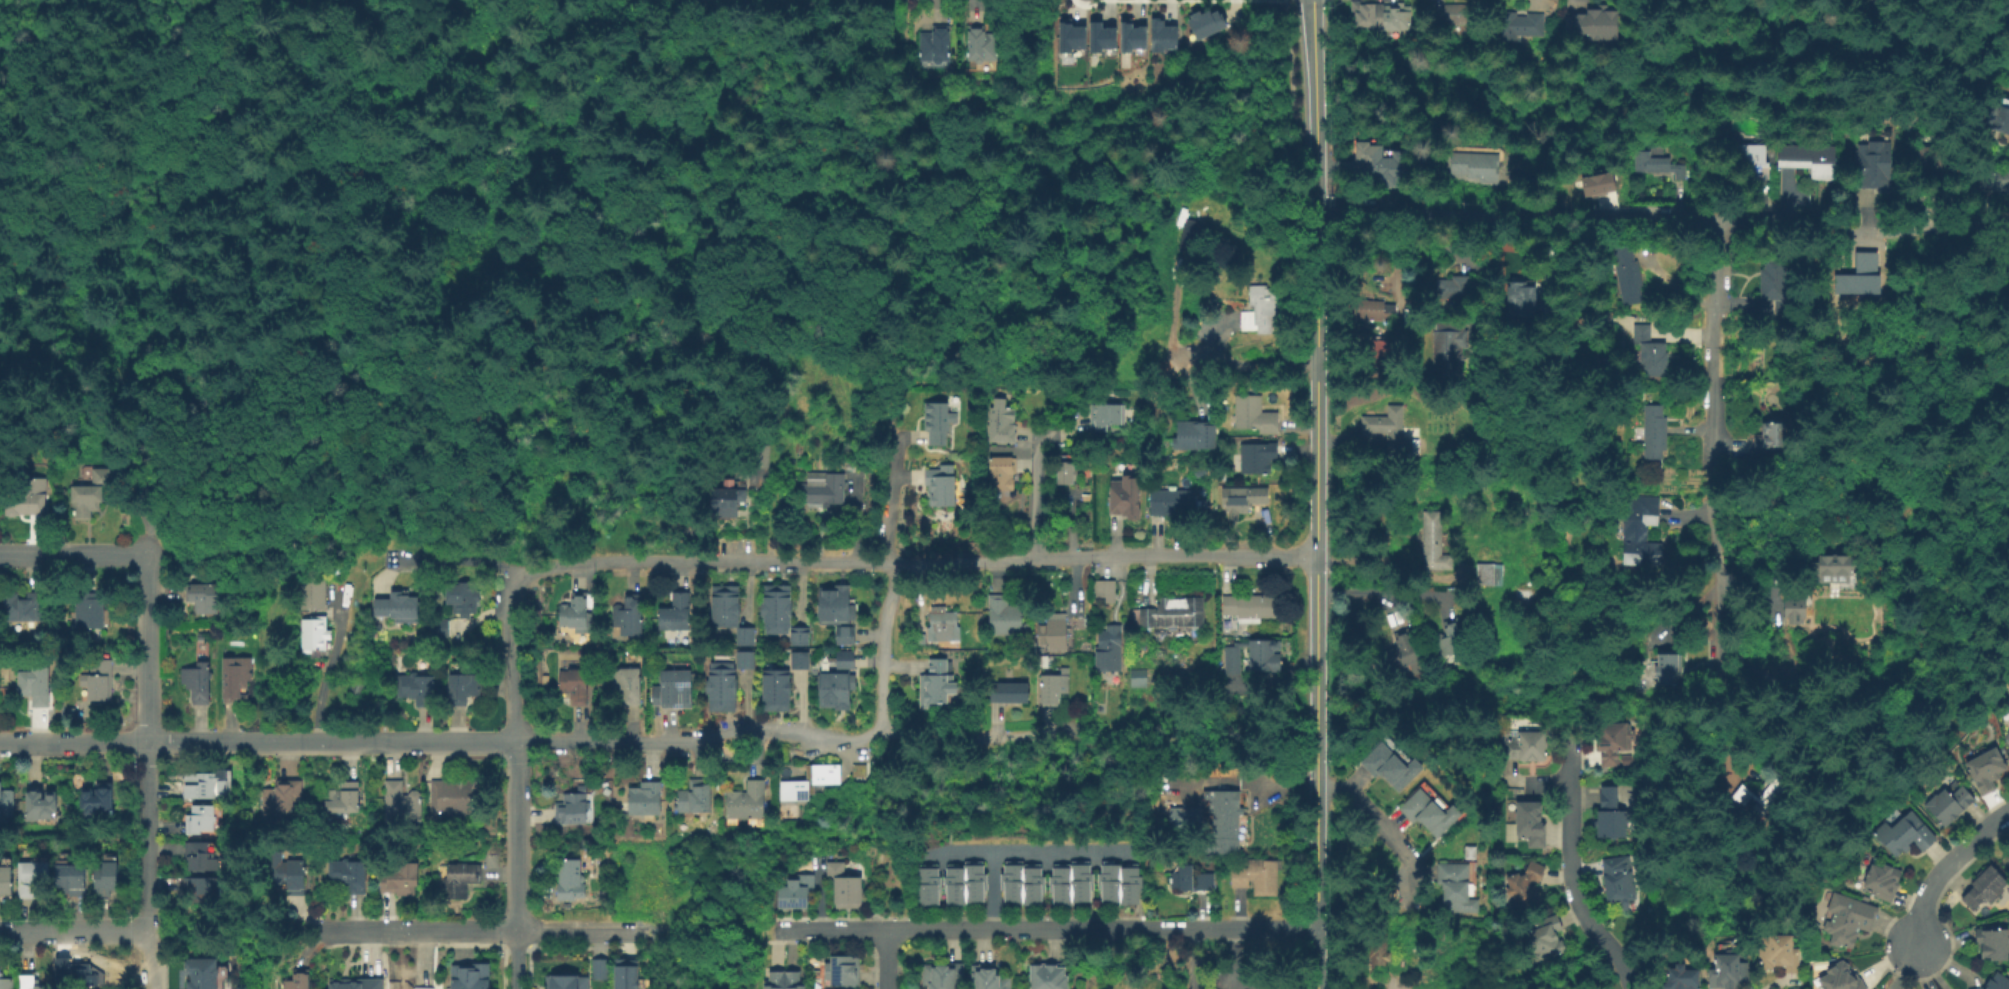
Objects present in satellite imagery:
building: (1454, 15)
building: (1382, 16)
building: (1207, 21)
building: (1592, 24)
building: (1518, 25)
building: (1163, 30)
building: (1079, 31)
building: (1108, 31)
building: (1136, 31)
building: (935, 43)
building: (980, 43)
road: (1311, 70)
road: (430, 80)
building: (2000, 114)
building: (1756, 154)
building: (1811, 157)
building: (1939, 159)
building: (1382, 160)
building: (1660, 163)
building: (1477, 165)
building: (1872, 165)
building: (1993, 179)
building: (1595, 183)
road: (1661, 223)
building: (1193, 235)
road: (103, 273)
building: (1628, 274)
building: (1774, 278)
building: (1455, 286)
building: (1528, 292)
road: (675, 293)
building: (1784, 306)
building: (1258, 309)
building: (1376, 310)
building: (1451, 347)
building: (1375, 352)
building: (1651, 352)
road: (1254, 363)
building: (1104, 414)
building: (1256, 414)
building: (938, 421)
building: (1001, 423)
building: (1392, 430)
building: (1655, 430)
building: (1196, 436)
building: (1774, 436)
building: (758, 455)
building: (1259, 456)
road: (1718, 461)
building: (1001, 472)
building: (1066, 472)
building: (825, 487)
building: (940, 487)
building: (90, 492)
road: (893, 495)
building: (1126, 498)
building: (1244, 498)
road: (1034, 499)
building: (724, 501)
building: (23, 502)
building: (1173, 503)
building: (1640, 529)
building: (1435, 541)
road: (74, 556)
road: (453, 561)
road: (914, 561)
road: (1315, 565)
building: (1829, 570)
building: (1494, 573)
building: (1104, 590)
road: (1387, 591)
building: (313, 594)
building: (203, 596)
building: (462, 598)
building: (834, 606)
building: (1251, 607)
building: (23, 608)
building: (398, 608)
building: (724, 608)
building: (775, 610)
building: (91, 611)
building: (1796, 611)
building: (676, 612)
building: (1173, 614)
building: (1006, 615)
building: (629, 616)
building: (575, 617)
building: (943, 624)
building: (439, 629)
building: (1054, 635)
building: (315, 636)
building: (843, 637)
building: (744, 638)
building: (796, 638)
building: (1163, 639)
building: (1452, 639)
road: (882, 648)
building: (1404, 650)
building: (1111, 653)
road: (506, 655)
building: (1263, 657)
building: (843, 660)
building: (1230, 660)
building: (745, 661)
building: (799, 661)
building: (1670, 667)
building: (1139, 678)
building: (84, 681)
building: (101, 681)
building: (197, 681)
building: (235, 681)
building: (626, 683)
building: (34, 684)
building: (574, 684)
building: (937, 685)
building: (463, 687)
building: (675, 687)
building: (720, 687)
building: (1054, 687)
building: (417, 690)
building: (776, 690)
building: (832, 691)
building: (1010, 692)
road: (1781, 725)
building: (1613, 741)
road: (257, 743)
road: (908, 743)
road: (148, 744)
road: (642, 745)
building: (1528, 746)
road: (1863, 763)
building: (1392, 767)
building: (1988, 768)
building: (1227, 773)
building: (206, 785)
building: (795, 790)
building: (1762, 793)
building: (456, 796)
building: (343, 797)
building: (644, 797)
building: (696, 797)
building: (1436, 797)
building: (282, 799)
road: (1923, 799)
building: (96, 801)
building: (745, 802)
building: (6, 803)
building: (402, 803)
building: (1952, 803)
building: (40, 805)
building: (571, 808)
building: (1423, 810)
building: (1611, 813)
road: (1371, 815)
building: (1182, 816)
building: (201, 818)
building: (1229, 820)
building: (1532, 823)
building: (1905, 832)
road: (515, 836)
road: (1026, 850)
building: (2008, 851)
building: (201, 855)
building: (110, 858)
road: (1942, 869)
road: (1571, 870)
building: (350, 873)
building: (290, 875)
building: (32, 877)
building: (1258, 877)
building: (71, 878)
building: (461, 878)
building: (4, 879)
building: (107, 879)
building: (569, 879)
building: (1192, 879)
building: (402, 880)
building: (975, 881)
building: (1012, 881)
building: (1081, 881)
building: (1110, 881)
building: (1620, 881)
building: (1884, 881)
building: (929, 884)
building: (1032, 884)
building: (1061, 884)
building: (955, 885)
building: (1130, 885)
building: (1526, 886)
building: (203, 887)
building: (1457, 887)
building: (1988, 889)
building: (844, 890)
building: (794, 893)
building: (1849, 919)
road: (1232, 927)
road: (1019, 929)
road: (831, 931)
road: (418, 932)
building: (1442, 932)
road: (74, 933)
road: (580, 933)
building: (1546, 937)
road: (709, 940)
building: (1994, 943)
building: (1380, 950)
building: (1781, 952)
road: (1189, 958)
road: (516, 960)
road: (887, 960)
road: (148, 961)
road: (1921, 967)
building: (599, 970)
building: (843, 972)
building: (1730, 972)
building: (202, 973)
building: (625, 973)
building: (943, 975)
building: (88, 976)
building: (1049, 976)
building: (989, 977)
building: (469, 978)
building: (1683, 978)
building: (1842, 978)
building: (784, 980)
building: (299, 981)
building: (31, 982)
building: (1998, 982)
building: (7, 983)
building: (565, 983)
building: (359, 985)
building: (425, 987)

